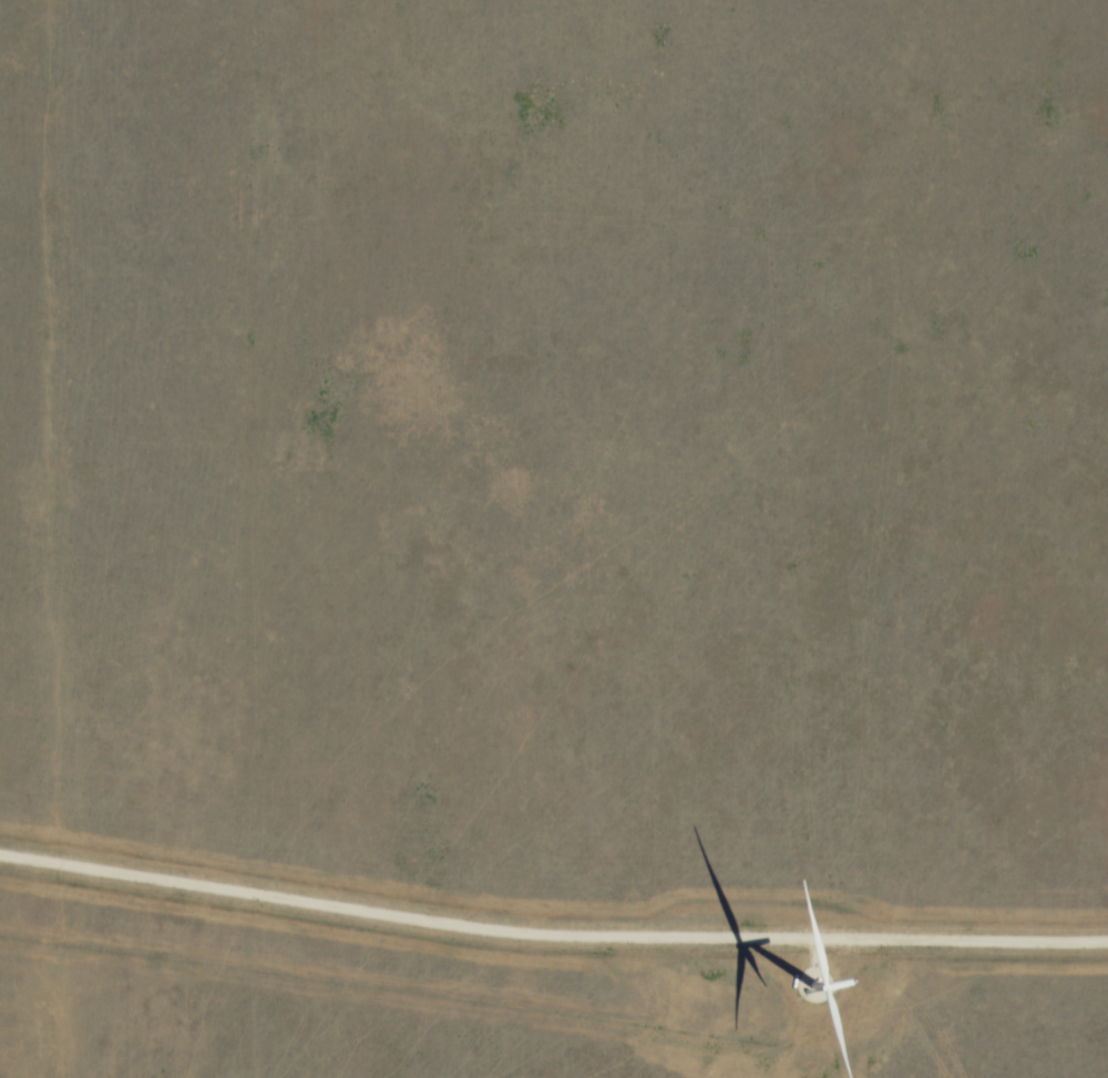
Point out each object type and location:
wind turbine: (812, 986)

